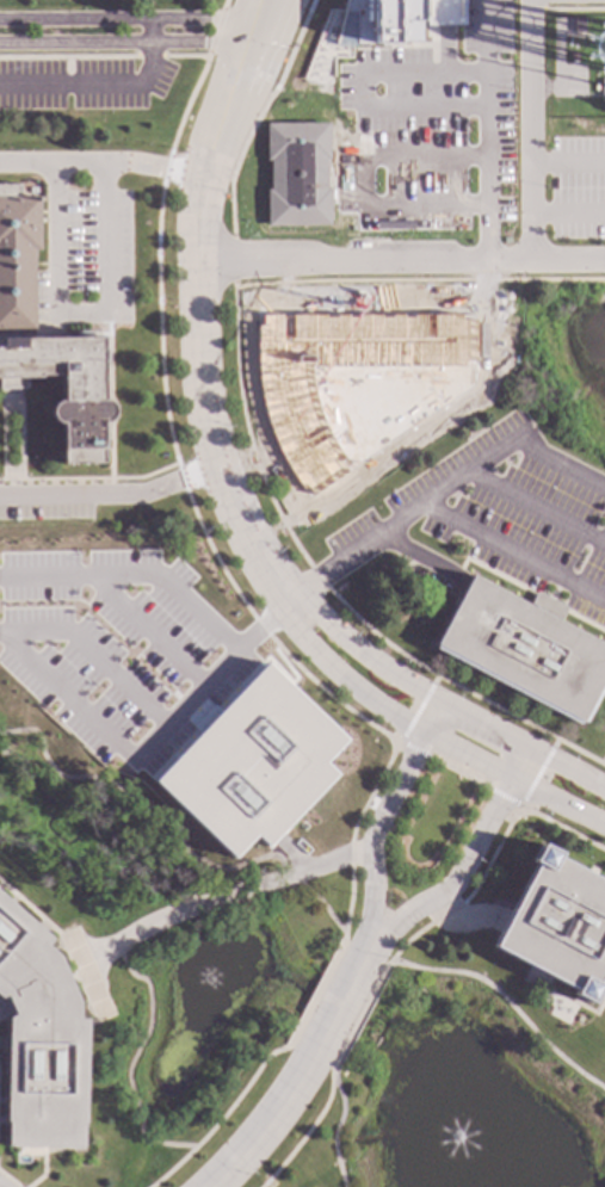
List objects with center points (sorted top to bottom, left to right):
road: (223, 5)
building: (443, 13)
road: (124, 20)
building: (377, 23)
building: (576, 27)
road: (148, 31)
road: (215, 31)
road: (445, 36)
road: (74, 43)
road: (198, 43)
road: (243, 43)
road: (103, 56)
road: (384, 73)
road: (91, 86)
building: (600, 89)
road: (529, 119)
road: (100, 165)
road: (486, 167)
building: (297, 174)
road: (530, 214)
parking lot: (88, 262)
road: (400, 264)
road: (81, 311)
building: (47, 338)
road: (197, 351)
road: (10, 389)
road: (106, 392)
flagpole: (31, 457)
road: (88, 480)
road: (442, 490)
road: (109, 494)
road: (536, 507)
parking lot: (45, 508)
road: (204, 538)
road: (514, 551)
road: (165, 583)
building: (524, 647)
road: (360, 656)
road: (236, 688)
street lamp: (54, 705)
road: (382, 707)
road: (410, 725)
road: (119, 748)
road: (524, 749)
building: (252, 765)
road: (520, 765)
road: (458, 773)
road: (529, 793)
road: (558, 802)
road: (384, 814)
road: (174, 833)
road: (459, 872)
road: (471, 892)
road: (223, 898)
street lamp: (356, 898)
road: (32, 911)
building: (557, 926)
street lamp: (385, 958)
flagpole: (317, 975)
road: (86, 977)
fountain: (208, 987)
road: (314, 991)
flagpole: (374, 1003)
road: (507, 1003)
flagpole: (301, 1010)
road: (359, 1016)
flagpole: (353, 1040)
building: (38, 1041)
street lamp: (284, 1055)
road: (132, 1059)
road: (301, 1067)
road: (222, 1117)
road: (337, 1127)
road: (305, 1132)
fountain: (455, 1136)
road: (43, 1170)
road: (8, 1180)

